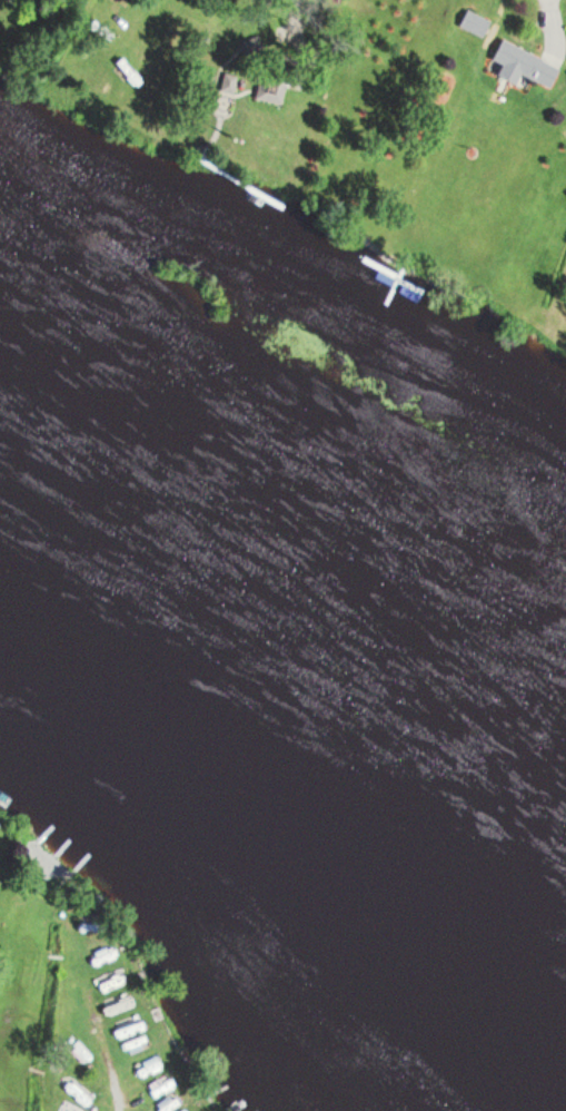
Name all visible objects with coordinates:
building: (471, 22)
building: (518, 65)
river: (289, 572)
building: (81, 1052)
building: (160, 1088)
building: (168, 1104)
building: (180, 1110)

